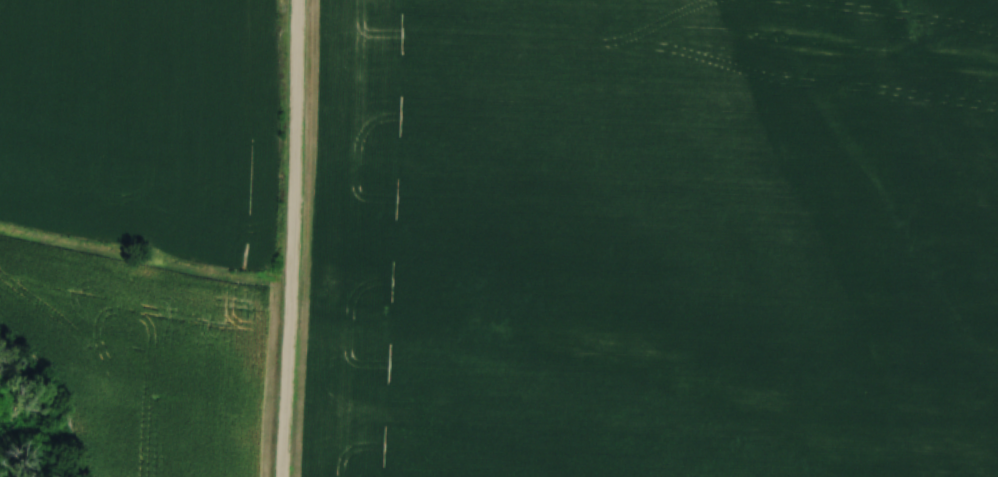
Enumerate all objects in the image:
road: (284, 238)

